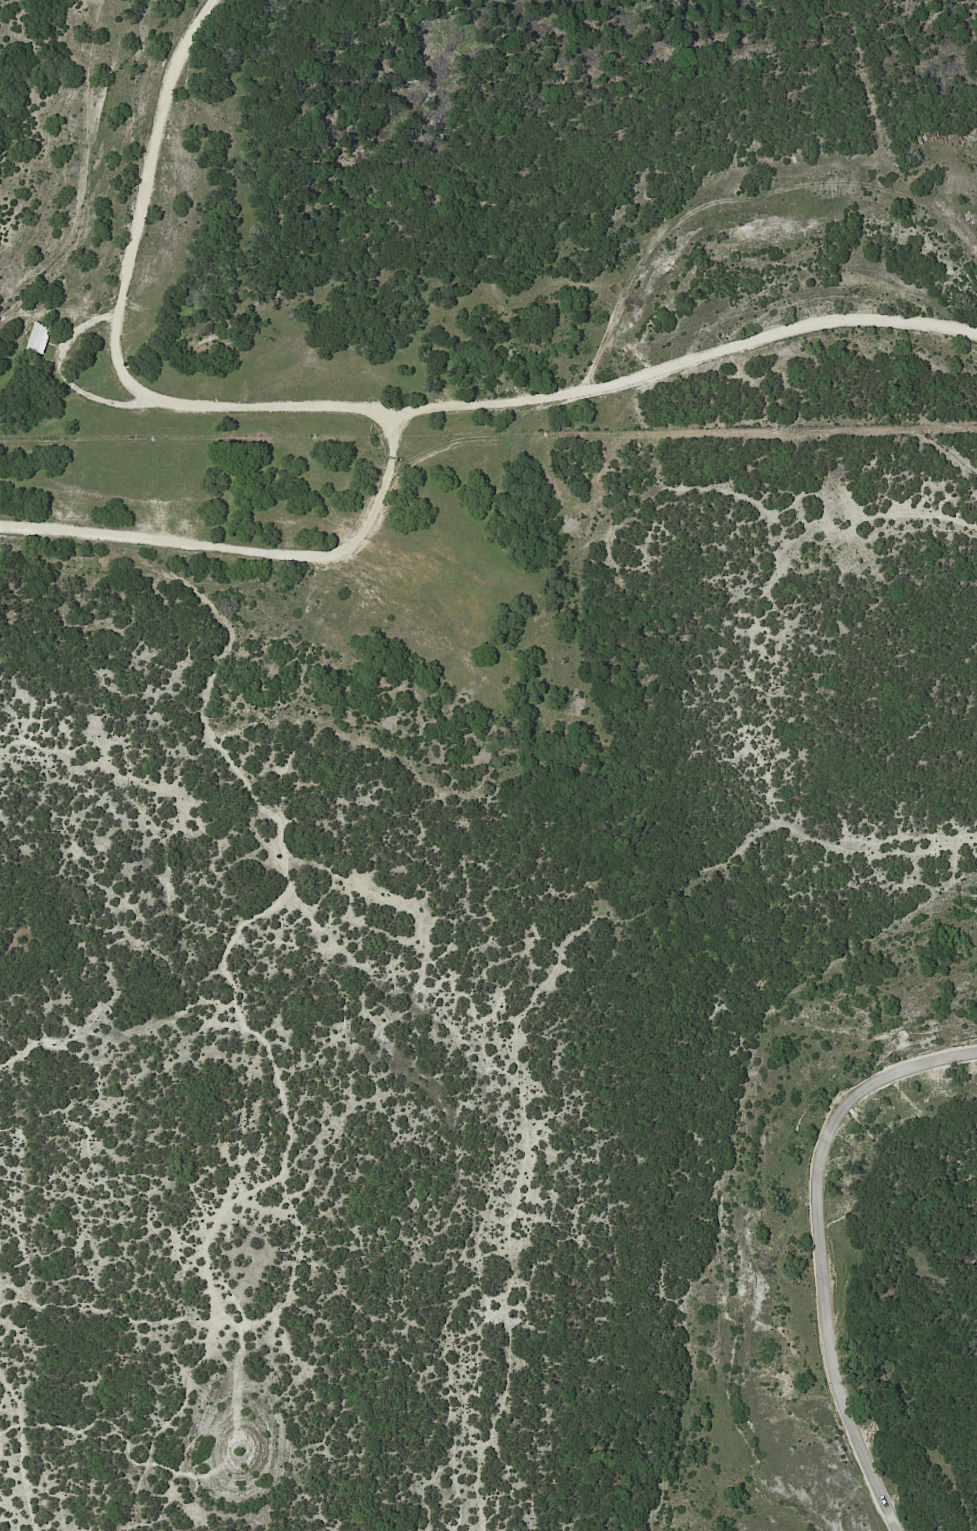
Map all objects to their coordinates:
building: (38, 337)
road: (355, 408)
road: (250, 552)
road: (820, 1249)

